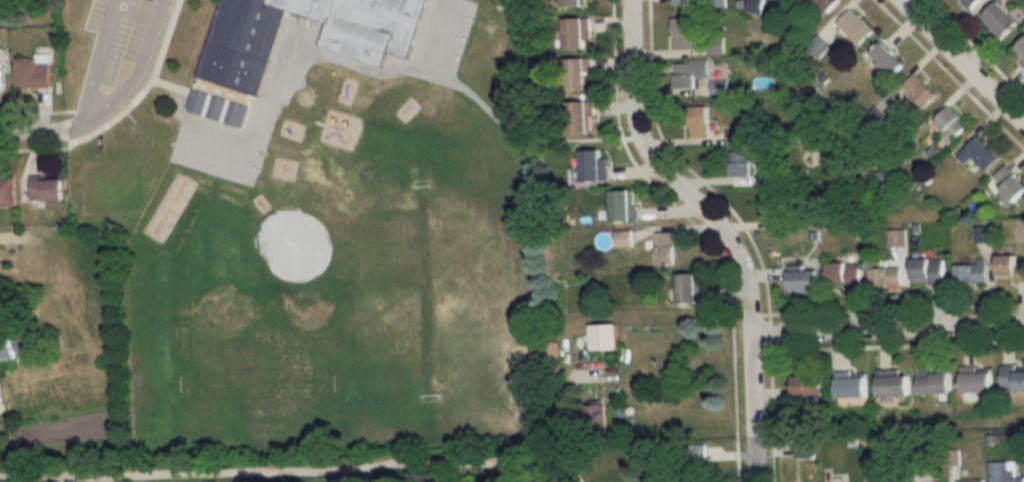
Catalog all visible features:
building: (680, 1)
building: (575, 2)
building: (969, 2)
building: (828, 4)
building: (756, 6)
building: (1000, 19)
building: (855, 27)
building: (577, 32)
building: (683, 33)
building: (716, 45)
building: (1020, 50)
road: (97, 59)
building: (236, 61)
building: (887, 61)
road: (961, 62)
building: (32, 72)
building: (689, 72)
building: (579, 73)
road: (133, 78)
building: (720, 89)
building: (920, 90)
building: (580, 116)
building: (699, 121)
building: (950, 124)
road: (508, 127)
road: (33, 131)
building: (737, 137)
building: (979, 153)
building: (740, 163)
building: (594, 164)
building: (773, 176)
building: (1010, 183)
building: (46, 187)
building: (7, 191)
building: (623, 205)
building: (776, 205)
road: (717, 229)
building: (665, 248)
building: (1010, 268)
building: (928, 270)
building: (972, 272)
building: (845, 275)
building: (885, 277)
building: (804, 280)
building: (691, 288)
road: (886, 329)
building: (604, 337)
building: (24, 344)
building: (1012, 378)
building: (977, 381)
building: (935, 382)
building: (809, 385)
building: (893, 385)
building: (851, 387)
building: (804, 448)
building: (698, 452)
road: (267, 472)
building: (1004, 472)
building: (883, 478)
building: (971, 481)

